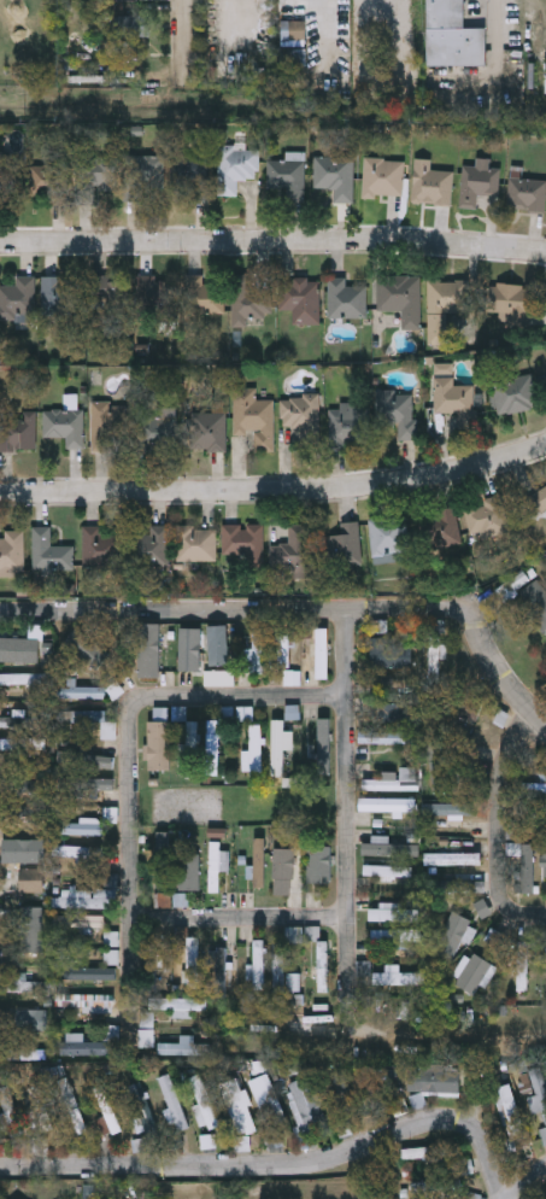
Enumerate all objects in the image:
road: (498, 7)
building: (133, 24)
building: (452, 35)
road: (180, 36)
building: (234, 166)
building: (192, 174)
building: (140, 175)
building: (333, 175)
building: (286, 176)
building: (381, 176)
building: (5, 177)
building: (477, 181)
building: (65, 183)
building: (430, 185)
building: (526, 193)
road: (272, 244)
building: (108, 292)
building: (58, 294)
building: (154, 294)
building: (204, 294)
building: (17, 297)
building: (344, 298)
building: (300, 299)
building: (248, 300)
building: (507, 303)
building: (397, 304)
building: (445, 305)
building: (516, 393)
building: (452, 398)
building: (397, 410)
building: (301, 414)
building: (252, 417)
building: (64, 425)
building: (105, 425)
building: (346, 425)
building: (17, 431)
building: (206, 431)
building: (155, 432)
road: (275, 490)
building: (536, 499)
building: (486, 517)
building: (442, 527)
building: (387, 534)
building: (242, 540)
building: (195, 543)
building: (99, 545)
building: (342, 545)
building: (152, 546)
building: (12, 551)
building: (48, 551)
building: (293, 551)
building: (534, 601)
road: (174, 613)
road: (470, 620)
building: (205, 642)
building: (88, 649)
building: (258, 650)
building: (149, 651)
building: (284, 653)
building: (323, 654)
building: (19, 656)
building: (40, 657)
building: (393, 657)
building: (22, 680)
building: (83, 692)
road: (237, 698)
building: (468, 706)
building: (293, 712)
building: (246, 714)
building: (94, 721)
building: (12, 723)
building: (387, 737)
building: (23, 744)
building: (192, 744)
building: (159, 745)
building: (323, 745)
building: (280, 747)
building: (257, 750)
building: (88, 761)
building: (397, 782)
building: (24, 786)
building: (101, 788)
building: (448, 811)
road: (351, 815)
road: (503, 823)
building: (81, 827)
building: (389, 848)
building: (24, 849)
building: (80, 852)
building: (453, 859)
building: (545, 861)
building: (259, 862)
building: (281, 864)
building: (217, 865)
building: (319, 865)
building: (524, 867)
building: (153, 871)
building: (388, 871)
building: (188, 872)
road: (131, 873)
building: (35, 881)
building: (460, 887)
building: (83, 899)
building: (393, 916)
road: (242, 918)
building: (80, 922)
building: (31, 929)
building: (295, 935)
building: (395, 935)
building: (452, 936)
building: (111, 940)
building: (111, 957)
building: (152, 961)
building: (193, 963)
building: (258, 964)
building: (322, 966)
building: (522, 966)
building: (278, 967)
building: (219, 972)
building: (474, 973)
building: (28, 987)
building: (88, 1002)
building: (181, 1006)
building: (34, 1019)
building: (146, 1019)
building: (146, 1039)
building: (78, 1045)
building: (187, 1046)
building: (27, 1052)
building: (434, 1080)
building: (372, 1088)
building: (539, 1090)
building: (344, 1098)
building: (266, 1099)
building: (202, 1101)
building: (306, 1101)
building: (172, 1103)
building: (72, 1107)
building: (240, 1109)
building: (10, 1111)
building: (143, 1111)
building: (107, 1112)
building: (544, 1134)
building: (207, 1141)
building: (422, 1152)
road: (278, 1164)
road: (528, 1181)
building: (434, 1189)
building: (542, 1195)

